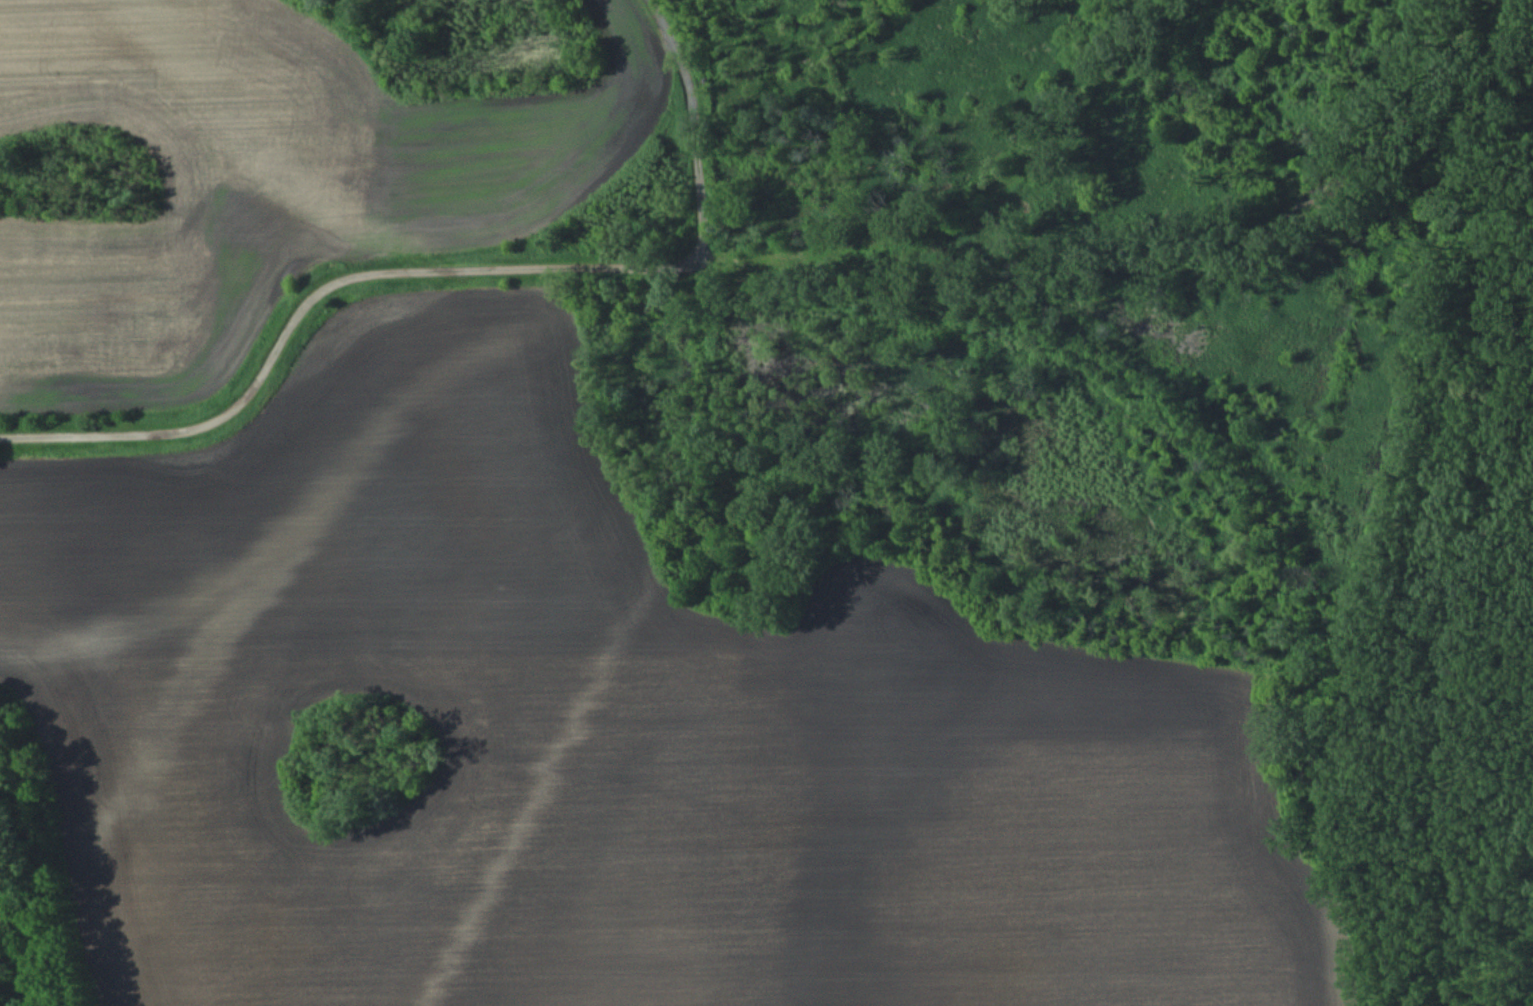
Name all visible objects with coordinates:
road: (618, 266)

